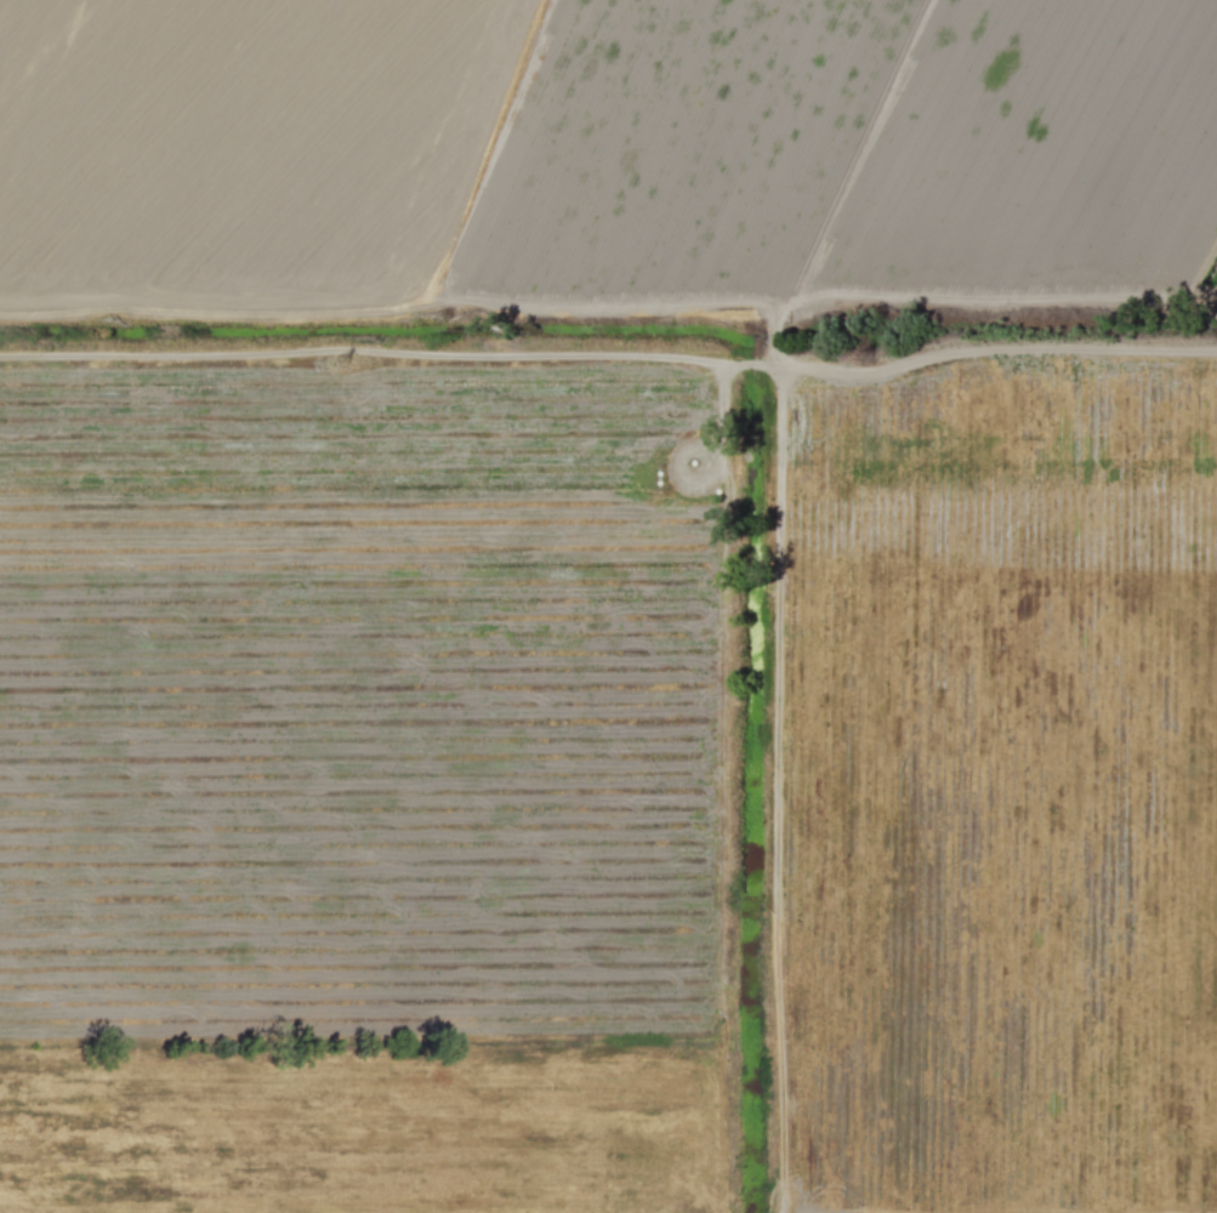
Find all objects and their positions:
crop: (241, 149)
power tower: (859, 357)
power tower: (337, 363)
road: (613, 364)

